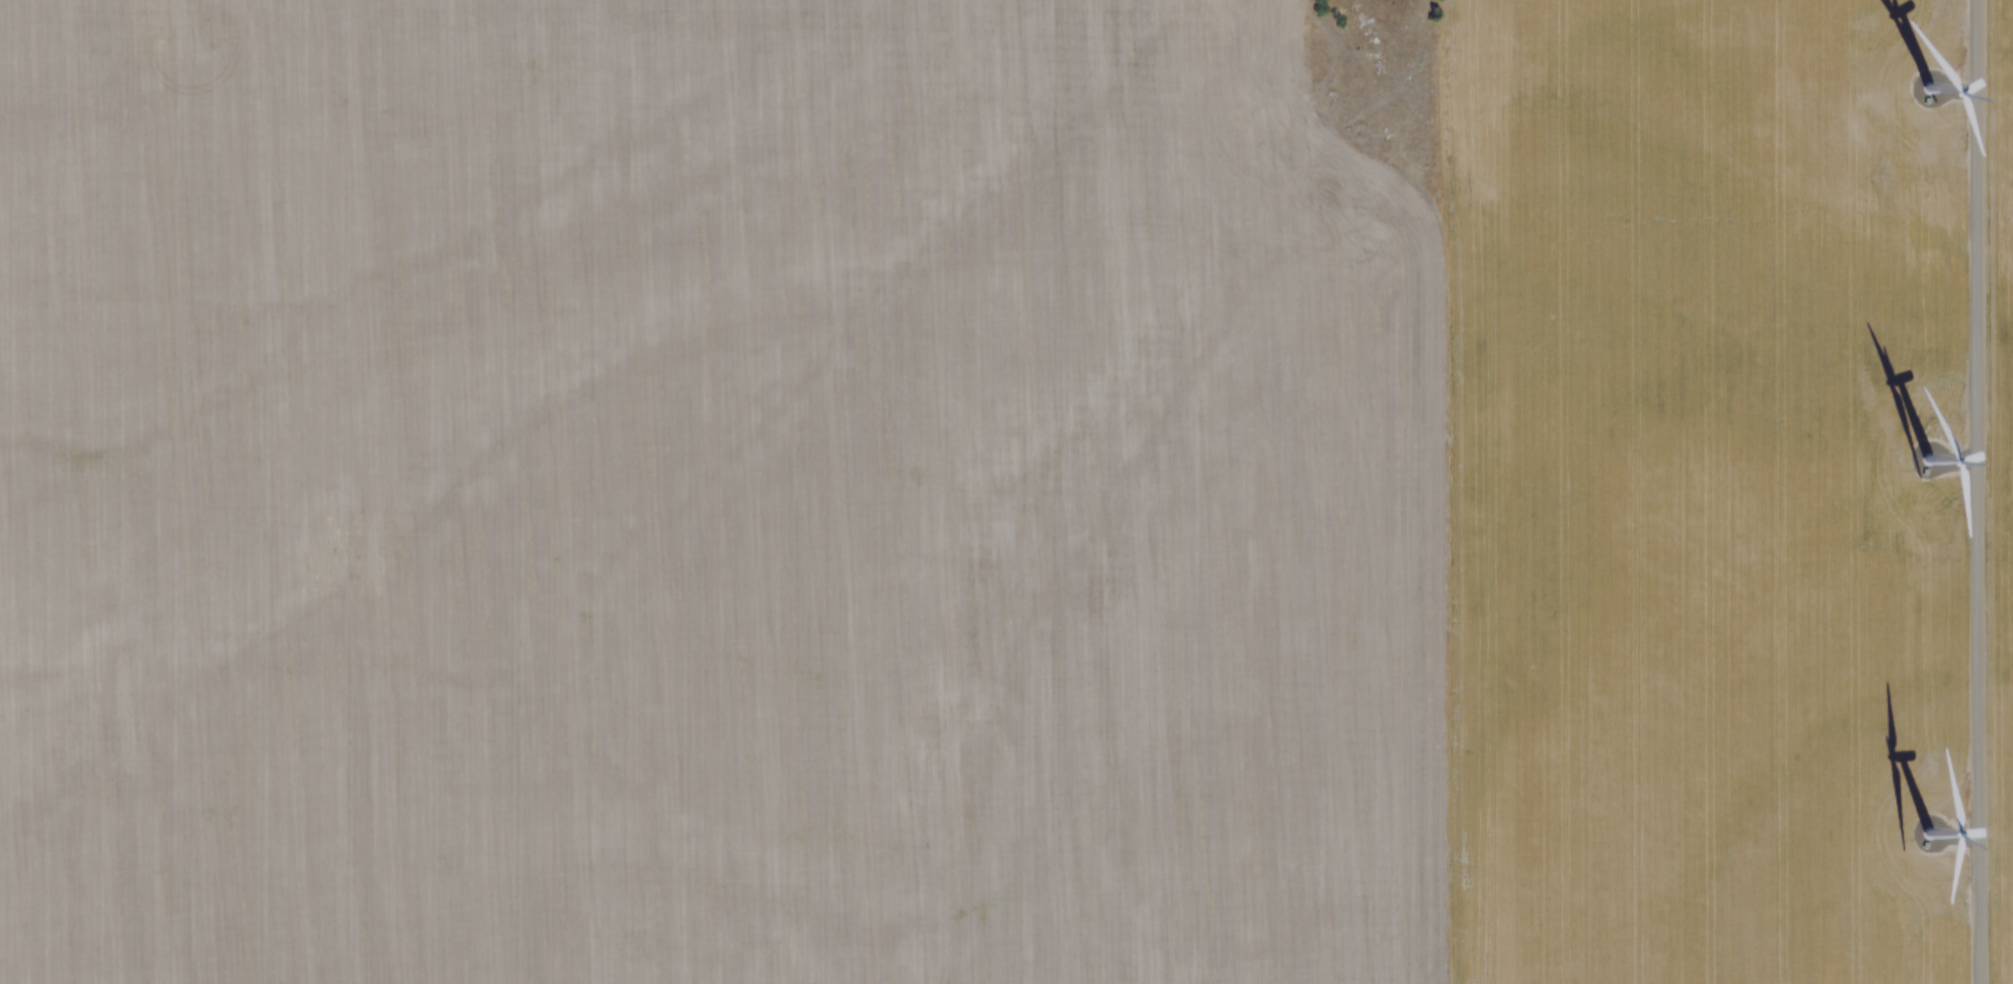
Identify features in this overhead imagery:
wind turbine: (1948, 87)
wind turbine: (1944, 461)
road: (1973, 492)
wind turbine: (1934, 826)

